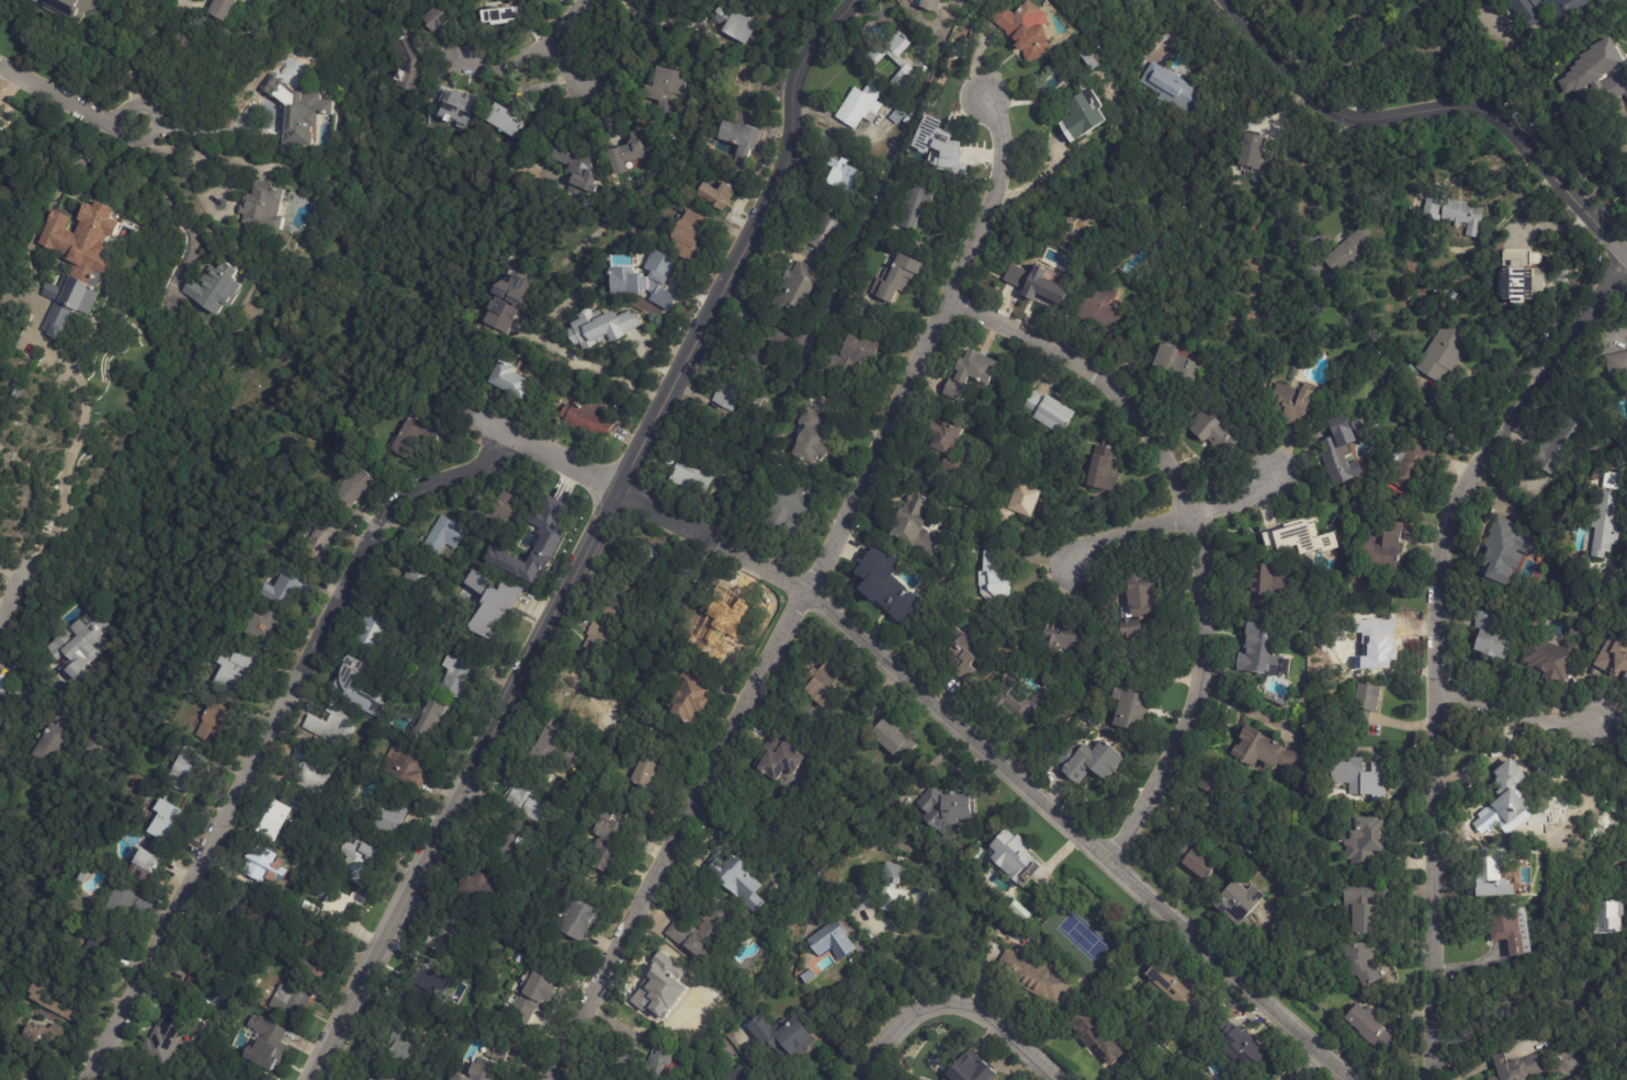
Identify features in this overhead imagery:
building: (956, 0)
building: (1116, 0)
building: (1277, 0)
building: (1134, 4)
building: (928, 5)
building: (77, 8)
building: (230, 10)
building: (1548, 10)
building: (489, 16)
building: (720, 19)
building: (429, 22)
building: (738, 27)
building: (400, 32)
building: (1025, 33)
road: (1401, 44)
road: (526, 50)
road: (136, 52)
building: (896, 60)
building: (406, 67)
building: (1598, 72)
building: (745, 80)
road: (588, 83)
building: (280, 87)
building: (1166, 89)
building: (1611, 89)
building: (660, 91)
road: (68, 100)
building: (859, 106)
building: (1582, 107)
building: (462, 109)
building: (2, 110)
building: (1084, 113)
road: (1432, 113)
building: (897, 116)
building: (305, 121)
building: (502, 124)
road: (203, 130)
building: (737, 137)
building: (633, 149)
building: (938, 150)
road: (183, 154)
building: (1253, 156)
building: (569, 164)
building: (1591, 167)
building: (841, 174)
road: (170, 196)
building: (720, 196)
road: (1280, 197)
building: (1626, 203)
building: (913, 206)
road: (992, 206)
building: (270, 207)
building: (1456, 213)
road: (1425, 227)
building: (829, 230)
building: (697, 232)
building: (88, 236)
building: (1352, 248)
building: (1522, 275)
building: (631, 280)
building: (895, 281)
building: (216, 285)
building: (1043, 286)
building: (796, 293)
building: (72, 302)
building: (511, 303)
building: (1099, 309)
road: (1606, 322)
building: (606, 329)
building: (778, 339)
building: (799, 344)
building: (1444, 353)
building: (756, 354)
building: (849, 357)
building: (1174, 363)
building: (1617, 365)
road: (590, 366)
building: (969, 372)
building: (516, 377)
building: (731, 391)
building: (22, 393)
building: (1290, 403)
building: (1044, 412)
building: (592, 418)
building: (1212, 432)
building: (415, 434)
building: (809, 440)
building: (1561, 443)
building: (946, 447)
building: (1338, 452)
road: (66, 456)
building: (1409, 465)
building: (1101, 469)
building: (691, 477)
building: (789, 477)
building: (361, 486)
road: (1235, 497)
building: (1019, 504)
building: (499, 511)
building: (788, 512)
building: (1362, 512)
building: (1605, 522)
building: (915, 526)
road: (1194, 528)
building: (547, 530)
road: (1127, 530)
building: (449, 536)
building: (323, 538)
building: (1297, 539)
road: (591, 541)
building: (1379, 549)
building: (1505, 549)
building: (652, 561)
building: (714, 572)
road: (7, 573)
building: (994, 577)
building: (885, 584)
building: (1259, 584)
building: (292, 588)
building: (419, 588)
building: (1135, 600)
road: (7, 607)
building: (496, 614)
building: (270, 626)
building: (378, 627)
building: (726, 627)
building: (1574, 632)
building: (1489, 636)
building: (1062, 639)
building: (1366, 639)
road: (1437, 640)
building: (598, 644)
building: (78, 648)
building: (1257, 652)
building: (962, 653)
building: (1550, 657)
building: (1613, 658)
building: (244, 672)
building: (464, 672)
building: (824, 683)
building: (352, 687)
building: (630, 687)
building: (688, 693)
road: (752, 694)
building: (1016, 697)
building: (1367, 704)
building: (575, 705)
road: (934, 705)
building: (1129, 710)
road: (1518, 714)
building: (221, 717)
building: (438, 718)
building: (328, 724)
road: (269, 728)
building: (376, 728)
building: (892, 736)
building: (52, 742)
building: (553, 746)
building: (1262, 750)
building: (780, 759)
building: (1088, 761)
building: (409, 768)
building: (191, 771)
building: (315, 771)
building: (644, 772)
building: (1362, 777)
building: (1211, 786)
building: (524, 794)
building: (1507, 794)
building: (947, 803)
building: (168, 819)
building: (391, 820)
building: (281, 821)
building: (113, 823)
building: (606, 840)
building: (1364, 841)
building: (506, 843)
building: (1509, 843)
building: (1530, 845)
building: (1013, 855)
building: (363, 860)
building: (267, 861)
building: (1191, 861)
building: (146, 862)
building: (1492, 876)
building: (736, 879)
building: (477, 883)
building: (891, 887)
building: (154, 888)
building: (1381, 891)
building: (863, 897)
building: (1236, 905)
building: (134, 906)
building: (340, 906)
building: (1017, 909)
building: (847, 910)
building: (1358, 910)
building: (246, 916)
building: (575, 917)
building: (1607, 917)
building: (451, 932)
building: (699, 933)
building: (1512, 933)
building: (832, 941)
building: (319, 954)
road: (891, 958)
building: (98, 960)
building: (213, 960)
building: (1359, 965)
building: (1031, 976)
building: (807, 977)
building: (1170, 985)
building: (414, 987)
building: (294, 997)
building: (531, 997)
road: (953, 999)
building: (60, 1000)
building: (669, 1005)
building: (1367, 1030)
building: (169, 1035)
building: (1093, 1035)
building: (782, 1037)
building: (50, 1043)
building: (400, 1043)
building: (1239, 1044)
building: (272, 1045)
building: (646, 1065)
road: (1303, 1065)
building: (1517, 1068)
building: (477, 1070)
building: (971, 1070)
building: (239, 1076)
building: (383, 1076)
building: (737, 1076)
building: (14, 1078)
building: (21, 1078)
building: (135, 1079)

